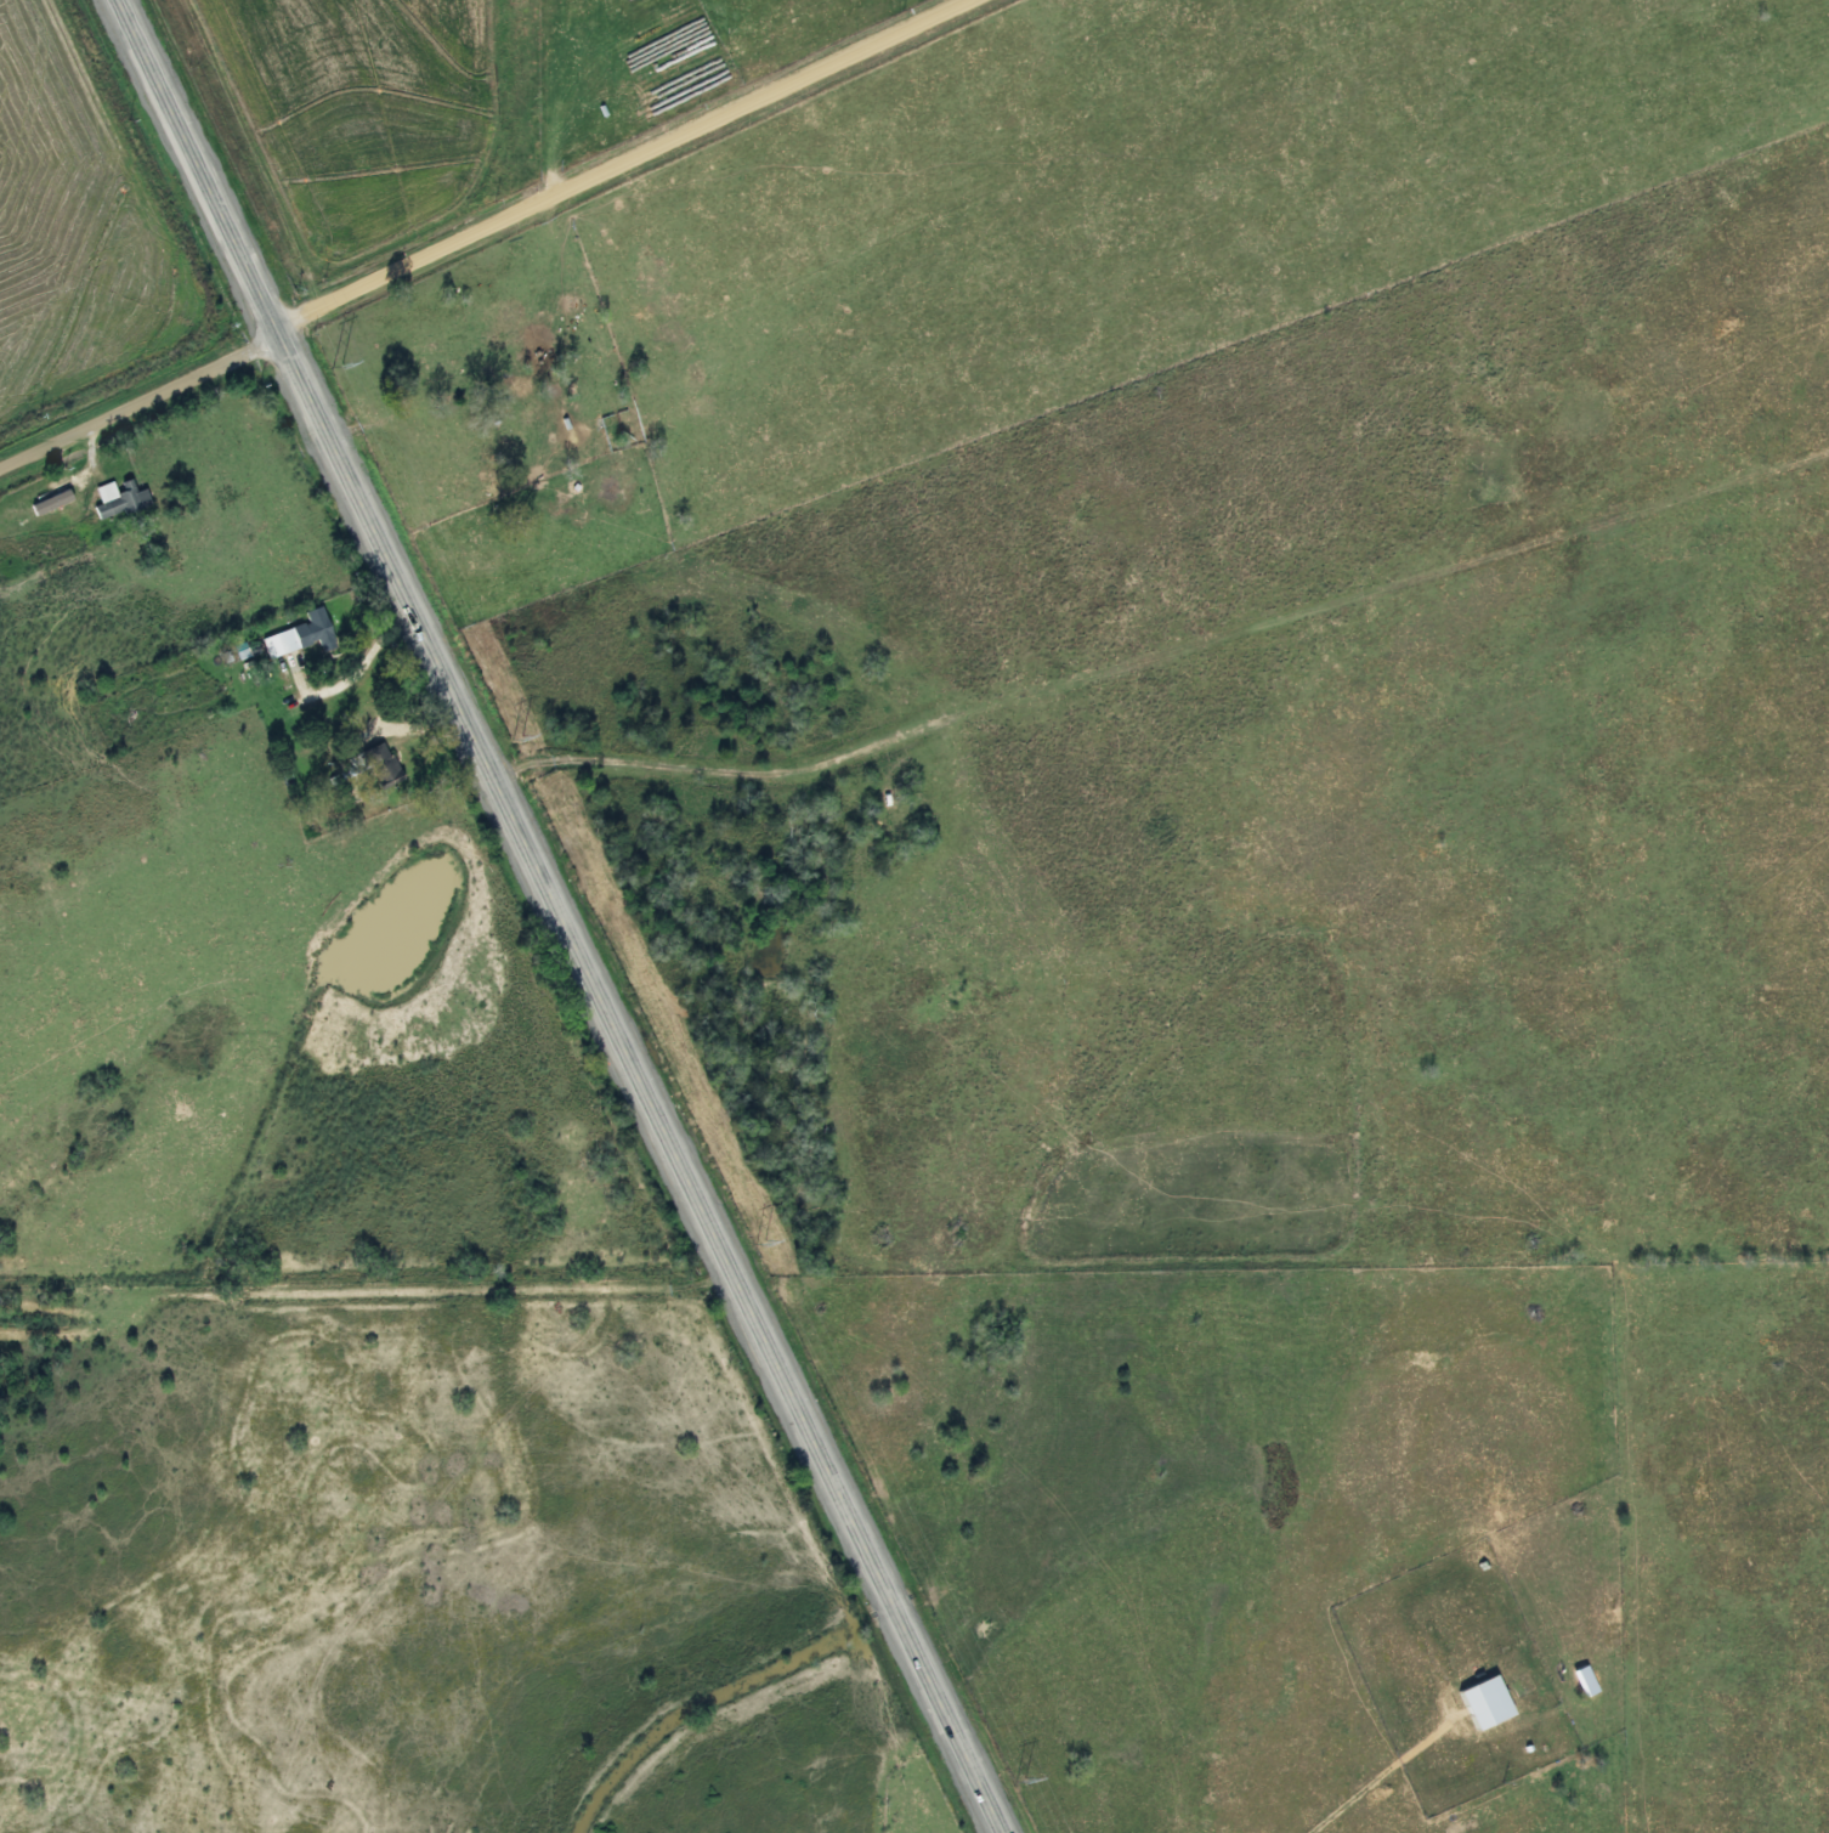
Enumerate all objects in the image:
road: (623, 165)
power tower: (338, 363)
road: (137, 400)
road: (94, 446)
building: (120, 497)
building: (290, 635)
road: (361, 666)
power tower: (517, 735)
road: (397, 745)
building: (372, 763)
road: (556, 916)
power tower: (760, 1240)
power tower: (1020, 1778)

